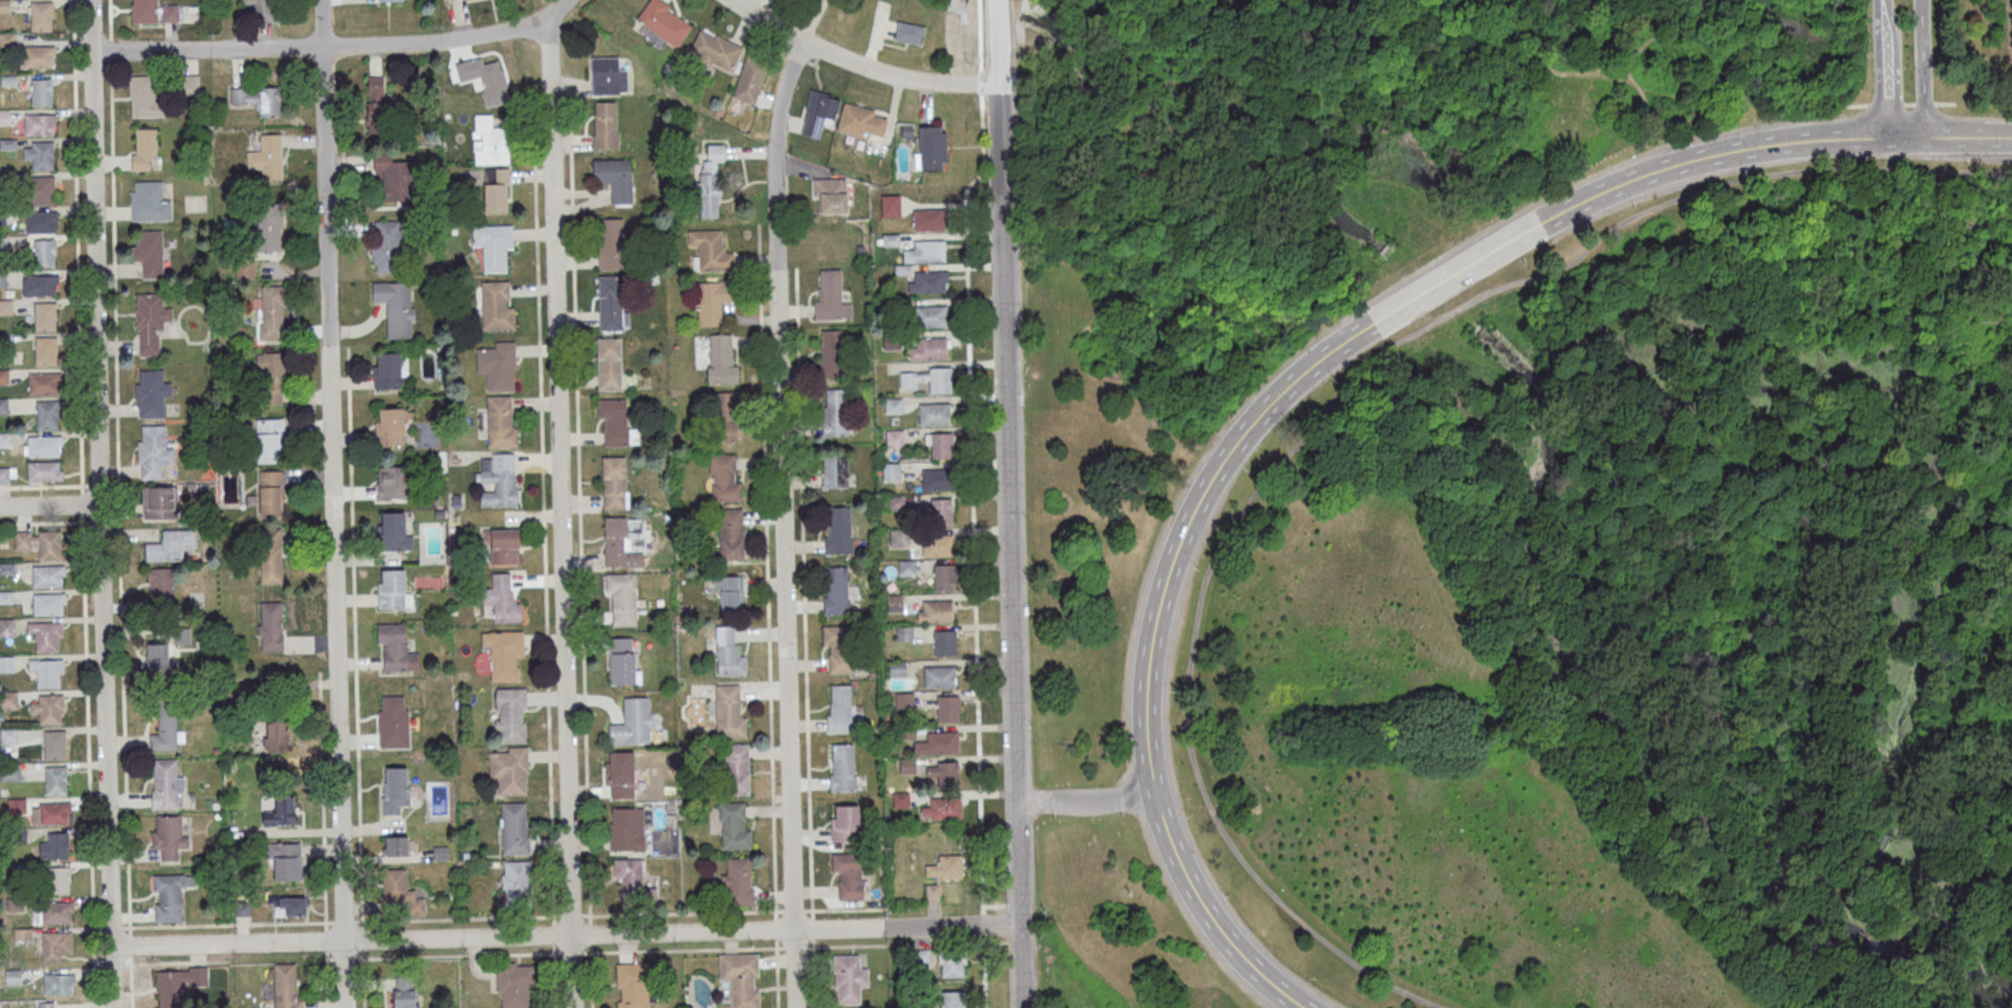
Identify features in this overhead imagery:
building: (390, 0)
building: (818, 0)
road: (557, 8)
building: (259, 9)
building: (144, 11)
building: (169, 13)
building: (41, 16)
building: (664, 25)
building: (910, 37)
road: (320, 45)
building: (716, 53)
building: (36, 56)
road: (858, 66)
road: (1923, 68)
road: (1884, 69)
building: (485, 80)
building: (608, 80)
building: (751, 82)
building: (188, 85)
building: (41, 92)
building: (143, 96)
building: (258, 100)
building: (376, 105)
building: (818, 116)
building: (3, 117)
building: (39, 124)
building: (860, 125)
building: (606, 130)
building: (907, 135)
road: (1968, 136)
building: (490, 140)
building: (144, 149)
building: (932, 151)
building: (39, 154)
building: (268, 158)
building: (393, 176)
building: (615, 181)
building: (710, 185)
building: (41, 190)
building: (496, 190)
building: (831, 199)
building: (149, 202)
building: (891, 208)
building: (41, 222)
building: (929, 223)
building: (267, 228)
building: (891, 243)
building: (493, 245)
building: (386, 246)
road: (77, 247)
building: (612, 248)
building: (44, 252)
road: (114, 252)
building: (149, 253)
building: (711, 254)
building: (926, 255)
building: (902, 272)
building: (39, 285)
building: (928, 286)
building: (831, 302)
building: (713, 303)
building: (496, 305)
building: (611, 306)
building: (396, 307)
building: (892, 309)
building: (272, 313)
building: (45, 316)
building: (929, 320)
building: (150, 322)
building: (892, 345)
building: (45, 351)
building: (929, 351)
building: (832, 357)
building: (721, 364)
building: (498, 365)
building: (610, 368)
building: (390, 370)
building: (3, 377)
building: (270, 378)
building: (42, 383)
building: (911, 383)
building: (940, 384)
road: (1283, 391)
building: (151, 393)
road: (309, 394)
building: (3, 406)
building: (893, 406)
road: (1326, 409)
building: (46, 415)
building: (834, 415)
building: (725, 416)
building: (935, 417)
building: (500, 422)
building: (614, 425)
building: (392, 426)
road: (314, 434)
building: (270, 440)
building: (894, 440)
building: (44, 446)
building: (942, 449)
building: (153, 453)
building: (44, 471)
building: (834, 471)
road: (309, 473)
building: (890, 473)
building: (7, 475)
building: (723, 479)
building: (938, 479)
building: (498, 480)
road: (99, 484)
building: (392, 484)
building: (613, 484)
road: (44, 485)
road: (113, 485)
building: (270, 494)
building: (158, 502)
park: (1528, 502)
road: (82, 504)
road: (98, 504)
road: (331, 504)
building: (894, 504)
road: (1008, 504)
road: (49, 505)
road: (579, 511)
road: (118, 512)
road: (559, 512)
building: (940, 513)
road: (100, 519)
road: (114, 519)
road: (45, 520)
road: (781, 521)
building: (394, 532)
building: (730, 535)
building: (838, 535)
building: (898, 539)
road: (543, 542)
building: (623, 542)
building: (49, 544)
building: (170, 545)
building: (504, 546)
building: (938, 547)
building: (270, 557)
building: (6, 568)
building: (906, 569)
road: (767, 570)
building: (47, 575)
building: (943, 577)
building: (730, 583)
building: (160, 586)
building: (393, 589)
road: (804, 591)
building: (836, 593)
building: (6, 597)
building: (502, 599)
building: (621, 599)
building: (729, 600)
building: (48, 603)
building: (894, 605)
building: (935, 611)
building: (270, 626)
building: (7, 627)
building: (45, 634)
building: (180, 635)
building: (904, 635)
road: (354, 636)
road: (976, 640)
building: (944, 644)
building: (396, 648)
building: (839, 650)
building: (727, 653)
building: (157, 654)
building: (505, 654)
building: (620, 661)
building: (6, 664)
building: (896, 670)
building: (46, 671)
building: (871, 676)
building: (938, 676)
building: (8, 699)
building: (903, 702)
building: (49, 709)
building: (947, 709)
building: (839, 711)
building: (728, 713)
building: (511, 715)
building: (393, 722)
building: (631, 724)
road: (123, 725)
building: (165, 731)
building: (905, 732)
building: (9, 736)
building: (276, 737)
building: (54, 744)
building: (937, 744)
road: (88, 761)
building: (907, 767)
building: (841, 769)
building: (509, 770)
building: (736, 770)
building: (10, 773)
building: (943, 773)
building: (620, 775)
building: (55, 780)
building: (166, 784)
building: (395, 789)
road: (322, 798)
building: (899, 801)
road: (1085, 802)
building: (15, 805)
building: (942, 809)
building: (281, 811)
building: (50, 813)
building: (844, 824)
building: (514, 828)
building: (733, 828)
building: (626, 831)
building: (169, 837)
building: (54, 846)
building: (396, 846)
building: (285, 859)
building: (945, 868)
building: (847, 876)
building: (59, 879)
building: (516, 882)
building: (632, 884)
building: (737, 884)
building: (401, 892)
building: (932, 893)
building: (169, 896)
building: (290, 906)
road: (844, 908)
building: (242, 909)
road: (792, 909)
building: (56, 912)
road: (681, 912)
road: (570, 914)
road: (457, 917)
road: (343, 920)
road: (225, 923)
road: (949, 925)
road: (114, 926)
road: (811, 927)
road: (775, 928)
road: (588, 932)
road: (553, 933)
road: (361, 937)
road: (495, 937)
road: (325, 938)
road: (129, 942)
building: (56, 944)
road: (844, 944)
road: (793, 945)
road: (682, 948)
road: (571, 951)
road: (457, 953)
road: (329, 957)
road: (343, 957)
building: (919, 959)
road: (175, 961)
road: (98, 962)
road: (112, 962)
building: (951, 962)
road: (776, 972)
road: (812, 972)
road: (553, 975)
road: (590, 975)
road: (326, 978)
road: (362, 978)
building: (739, 979)
building: (848, 979)
road: (130, 980)
building: (58, 984)
building: (176, 985)
building: (634, 986)
building: (285, 987)
building: (405, 992)
building: (951, 999)
river: (2003, 999)
building: (47, 1005)

